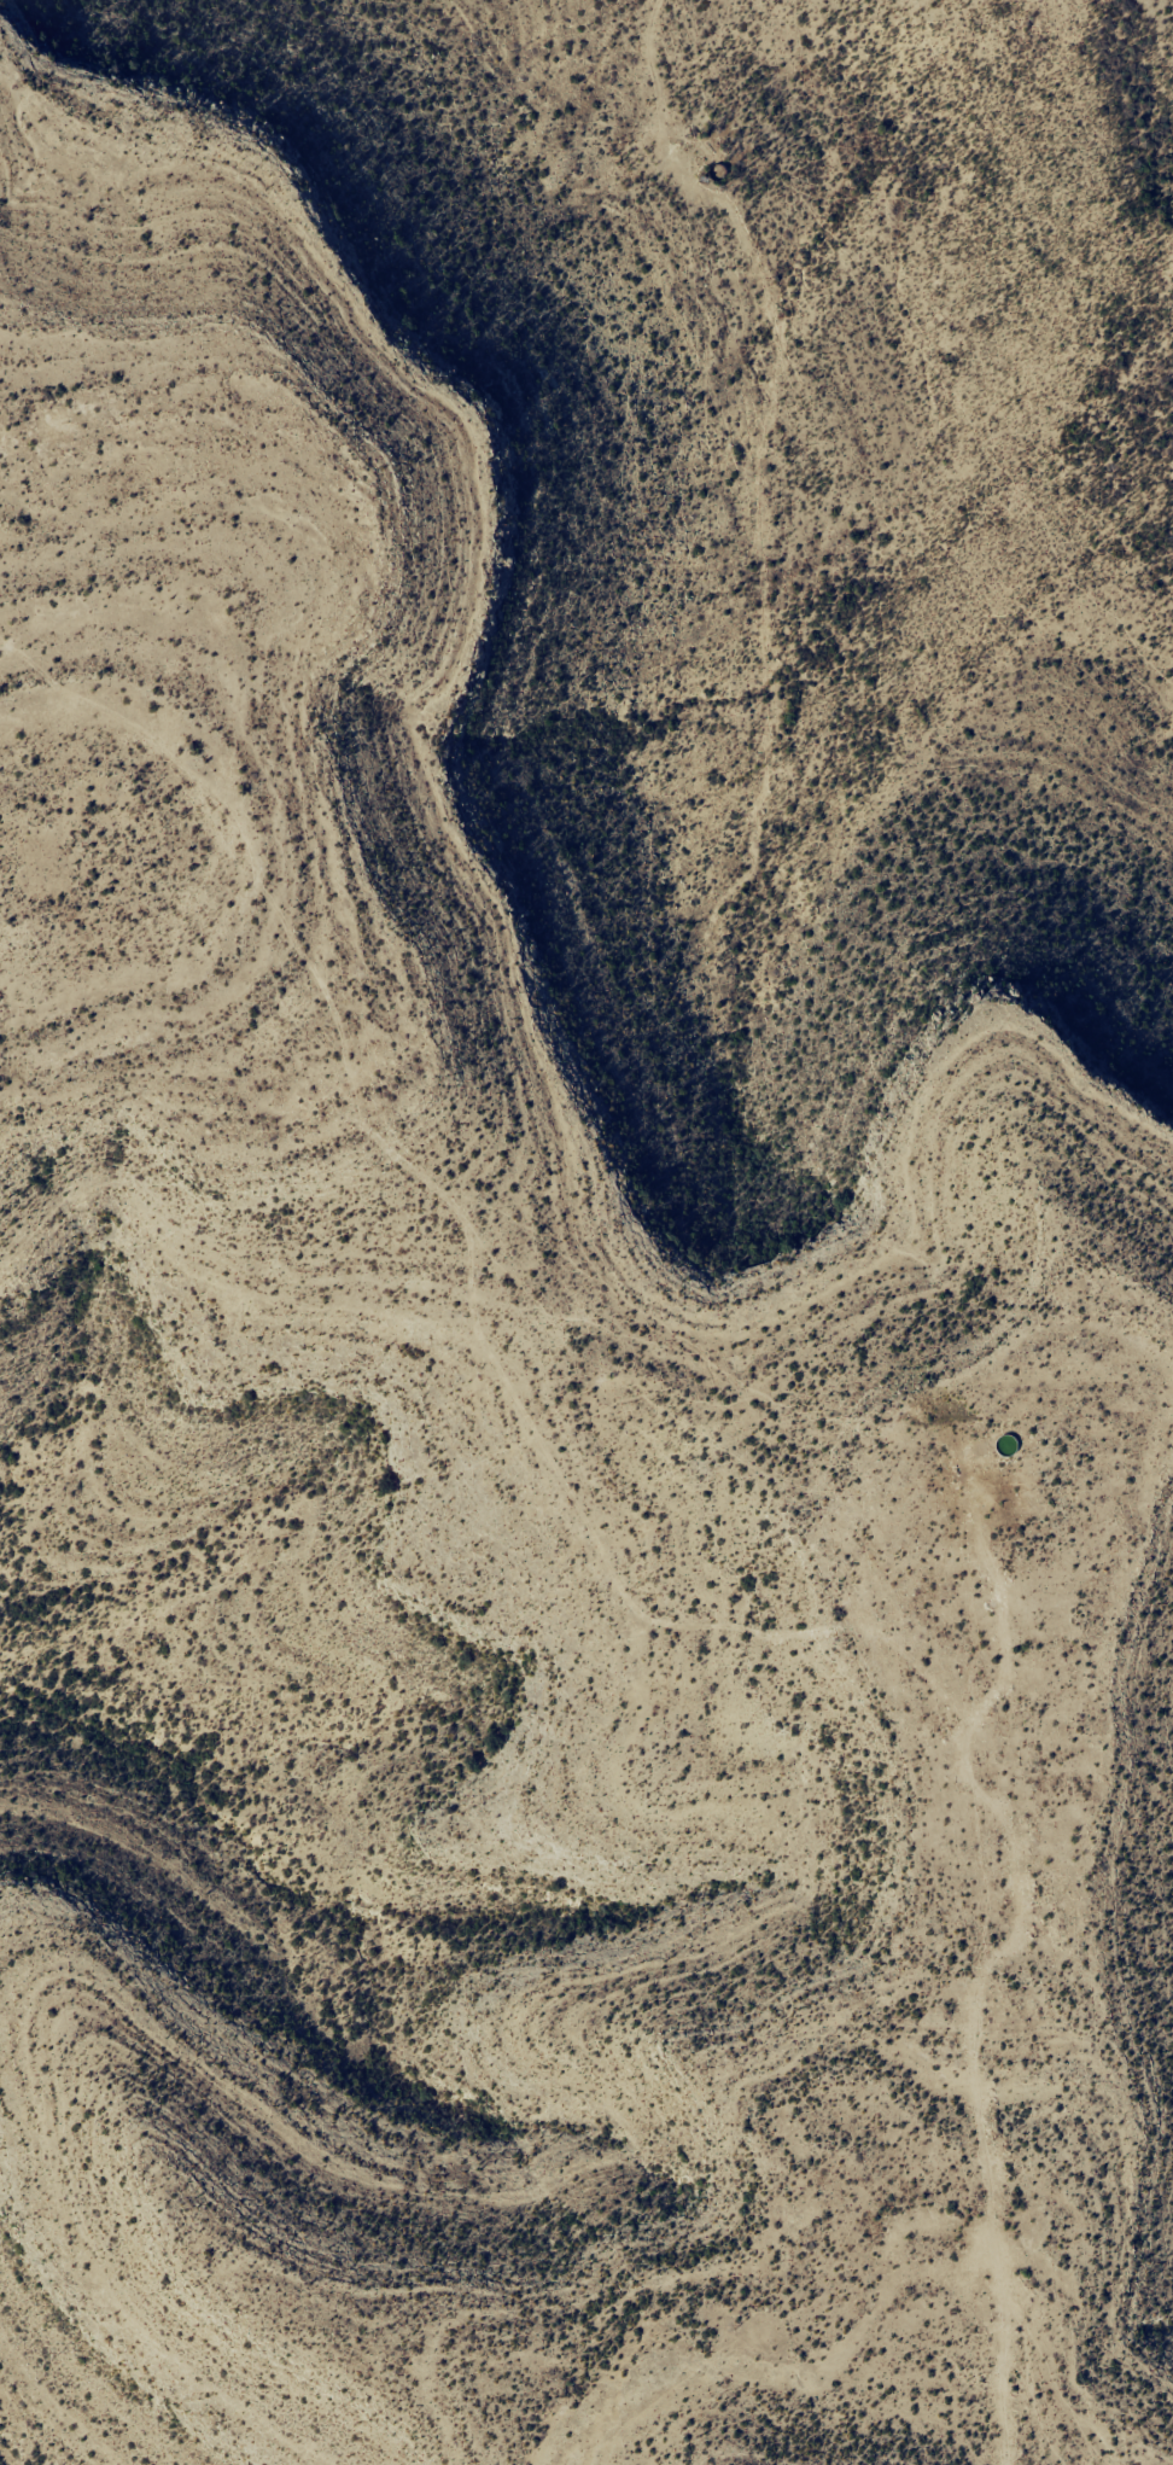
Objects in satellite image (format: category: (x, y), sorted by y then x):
road: (682, 93)

